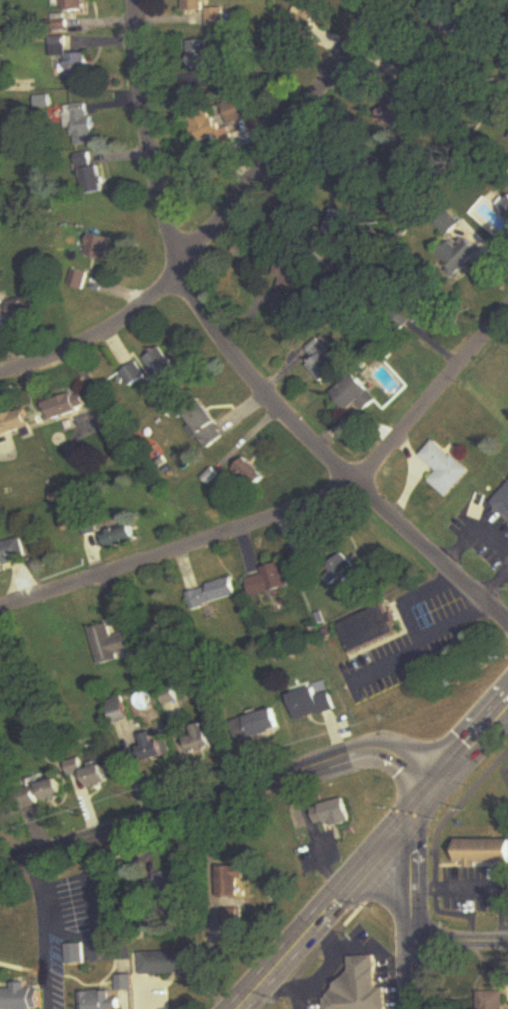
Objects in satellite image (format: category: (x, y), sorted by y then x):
building: (74, 5)
building: (193, 6)
building: (215, 18)
building: (205, 59)
building: (239, 112)
building: (80, 124)
building: (204, 127)
building: (91, 174)
building: (506, 207)
road: (219, 222)
building: (101, 247)
building: (467, 255)
building: (79, 279)
building: (290, 286)
building: (22, 310)
building: (407, 314)
road: (231, 356)
building: (322, 362)
building: (163, 366)
building: (134, 375)
building: (356, 395)
building: (68, 406)
building: (14, 423)
building: (204, 423)
building: (445, 469)
building: (251, 475)
building: (503, 502)
road: (285, 509)
road: (473, 527)
building: (120, 536)
building: (11, 553)
building: (313, 557)
building: (344, 570)
road: (495, 574)
building: (270, 581)
building: (213, 595)
road: (417, 629)
building: (368, 630)
building: (114, 645)
road: (393, 658)
building: (172, 696)
building: (313, 704)
building: (121, 710)
building: (258, 725)
building: (205, 740)
building: (159, 750)
building: (94, 774)
building: (56, 791)
road: (226, 792)
building: (338, 813)
road: (314, 834)
building: (483, 853)
road: (373, 856)
building: (232, 883)
road: (453, 884)
building: (171, 885)
road: (413, 907)
road: (82, 933)
road: (460, 941)
road: (375, 947)
building: (79, 953)
road: (331, 957)
road: (48, 964)
building: (167, 964)
road: (296, 983)
building: (359, 987)
building: (115, 996)
building: (22, 997)
road: (144, 998)
building: (492, 1001)
road: (238, 1008)

